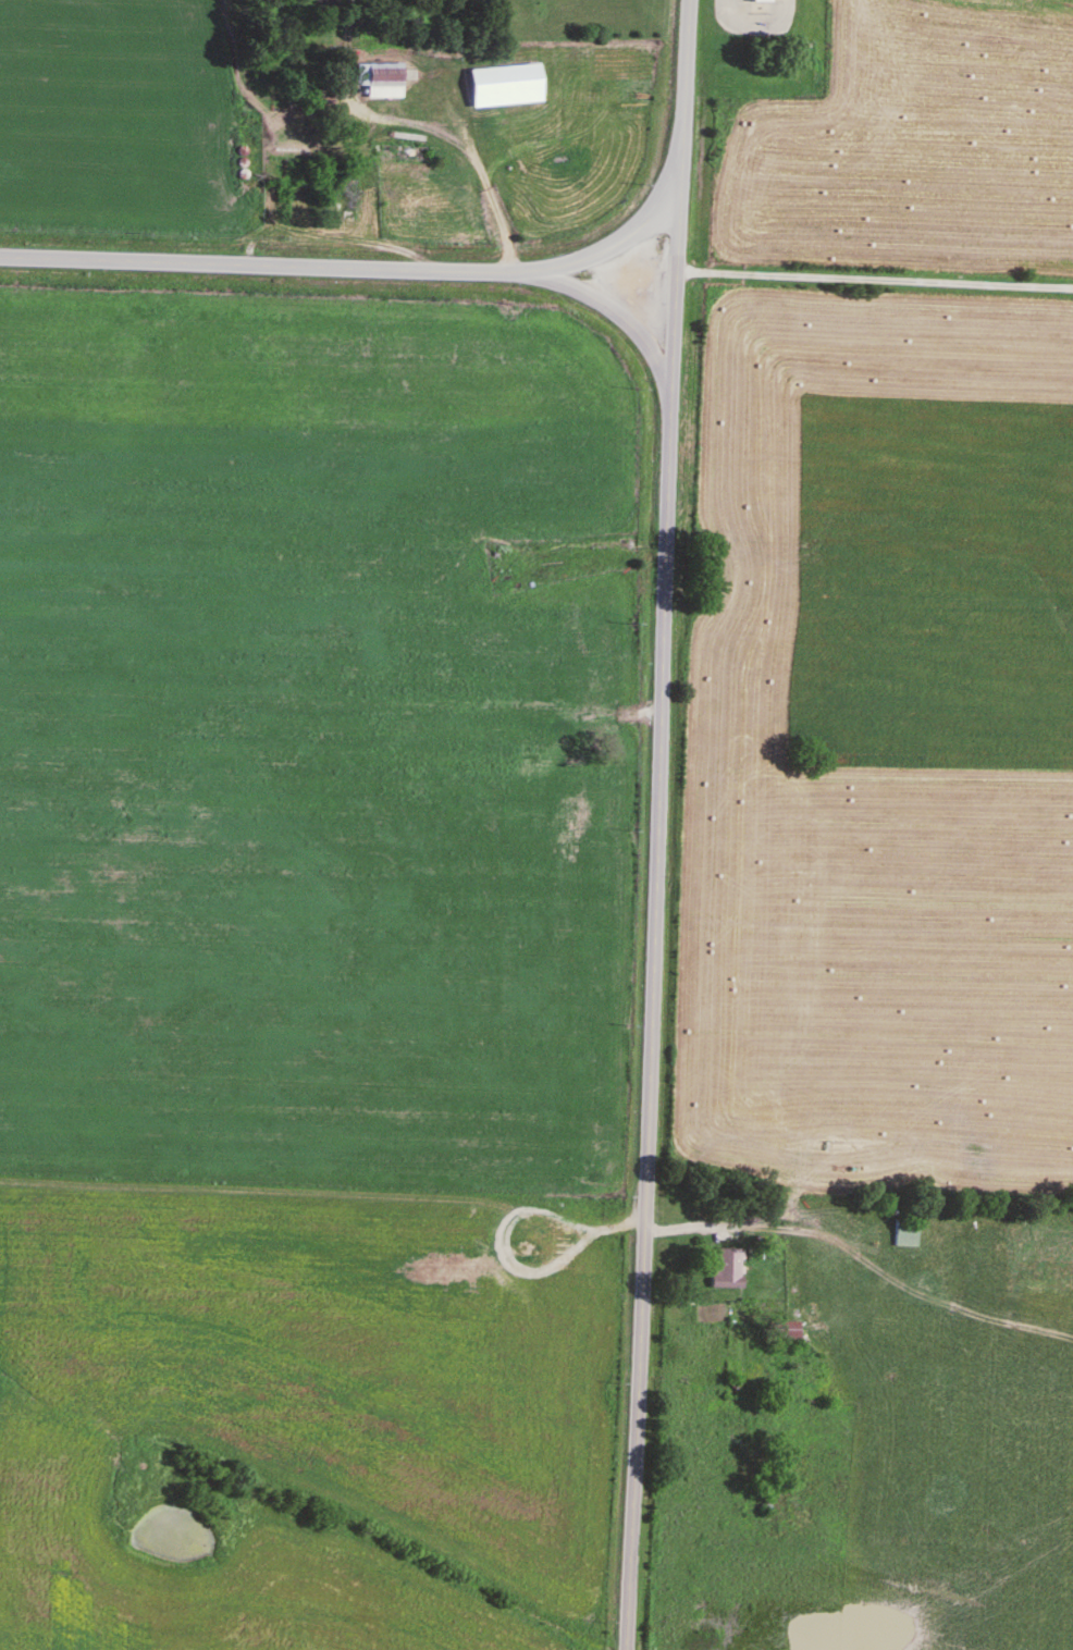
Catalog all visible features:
building: (761, 2)
building: (384, 77)
road: (681, 81)
building: (298, 173)
building: (340, 206)
road: (365, 270)
road: (608, 310)
road: (655, 906)
building: (904, 1234)
building: (726, 1271)
building: (787, 1331)

